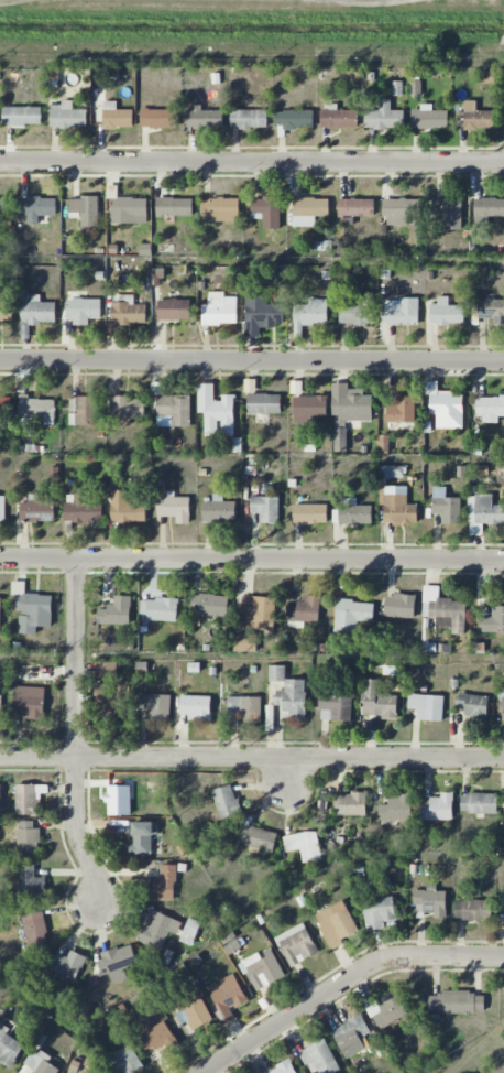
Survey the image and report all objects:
building: (486, 77)
building: (415, 87)
building: (397, 88)
building: (22, 116)
building: (67, 116)
building: (112, 117)
building: (338, 117)
building: (384, 117)
building: (474, 117)
building: (156, 118)
building: (202, 118)
building: (249, 118)
building: (429, 118)
building: (294, 119)
road: (252, 160)
building: (4, 206)
building: (36, 207)
building: (174, 207)
building: (355, 207)
building: (489, 208)
building: (127, 209)
building: (223, 209)
building: (308, 210)
building: (401, 210)
building: (85, 212)
building: (266, 212)
building: (449, 213)
building: (278, 275)
building: (36, 310)
building: (83, 310)
building: (174, 310)
building: (220, 310)
building: (491, 310)
building: (6, 311)
building: (357, 311)
building: (401, 312)
building: (446, 313)
building: (124, 314)
building: (262, 315)
building: (309, 315)
road: (252, 359)
building: (263, 403)
building: (350, 403)
building: (445, 405)
building: (127, 407)
building: (308, 408)
building: (490, 408)
building: (36, 409)
building: (86, 410)
building: (173, 410)
building: (402, 410)
building: (216, 412)
building: (340, 440)
building: (384, 444)
building: (386, 472)
building: (398, 506)
building: (2, 508)
building: (125, 508)
building: (175, 508)
building: (265, 508)
building: (37, 509)
building: (83, 509)
building: (448, 509)
building: (219, 510)
building: (309, 513)
building: (483, 513)
building: (352, 514)
road: (252, 560)
building: (209, 604)
building: (399, 606)
building: (32, 609)
building: (157, 609)
building: (305, 610)
building: (443, 610)
building: (116, 611)
building: (0, 613)
building: (258, 613)
building: (352, 615)
building: (493, 620)
building: (244, 642)
building: (106, 670)
building: (276, 673)
building: (292, 697)
building: (112, 700)
building: (376, 701)
building: (29, 702)
building: (0, 704)
building: (155, 705)
building: (473, 705)
building: (335, 706)
building: (427, 706)
building: (195, 707)
building: (503, 708)
building: (244, 709)
road: (76, 735)
road: (251, 756)
road: (288, 772)
building: (0, 792)
building: (29, 799)
building: (226, 801)
building: (479, 803)
building: (349, 804)
building: (397, 806)
building: (438, 808)
building: (256, 837)
building: (141, 838)
building: (28, 839)
building: (304, 845)
building: (30, 882)
building: (163, 884)
building: (502, 898)
building: (431, 901)
building: (473, 910)
building: (379, 912)
building: (336, 923)
building: (34, 929)
building: (157, 929)
building: (296, 945)
building: (117, 962)
building: (66, 965)
building: (262, 969)
road: (341, 980)
building: (227, 997)
building: (457, 1002)
building: (386, 1009)
building: (197, 1014)
building: (351, 1036)
building: (156, 1037)
building: (9, 1047)
building: (319, 1058)
building: (128, 1060)
building: (41, 1062)
building: (284, 1069)

